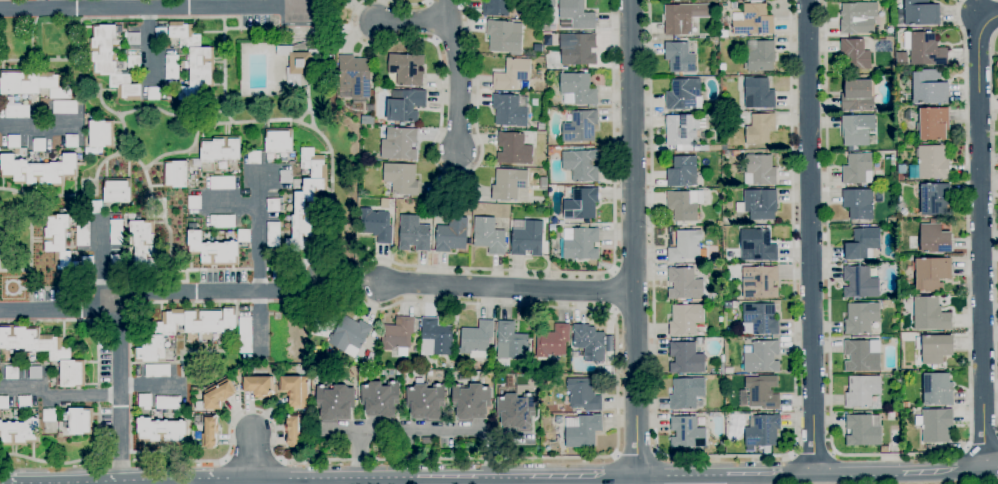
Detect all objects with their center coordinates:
building: (543, 1)
road: (218, 3)
road: (295, 3)
road: (81, 4)
road: (407, 4)
road: (147, 8)
building: (496, 8)
building: (921, 13)
building: (575, 15)
building: (683, 18)
building: (858, 18)
building: (889, 18)
road: (412, 21)
building: (753, 21)
building: (889, 31)
building: (161, 34)
building: (723, 34)
building: (504, 36)
building: (132, 38)
road: (148, 45)
building: (924, 48)
building: (578, 50)
building: (855, 54)
building: (679, 57)
building: (761, 57)
building: (193, 58)
building: (133, 62)
building: (110, 64)
building: (298, 64)
building: (997, 65)
building: (171, 67)
building: (722, 68)
building: (406, 69)
road: (457, 74)
building: (511, 74)
building: (355, 75)
building: (31, 83)
building: (929, 88)
building: (577, 90)
building: (153, 94)
building: (758, 94)
building: (684, 95)
building: (858, 95)
building: (405, 106)
building: (65, 107)
building: (715, 107)
building: (16, 111)
building: (509, 111)
building: (908, 115)
building: (715, 116)
building: (933, 123)
road: (35, 126)
building: (540, 126)
building: (580, 127)
building: (760, 128)
building: (856, 129)
building: (682, 131)
building: (100, 136)
building: (13, 141)
building: (71, 141)
building: (278, 142)
building: (399, 144)
building: (39, 145)
road: (432, 146)
building: (724, 147)
building: (714, 148)
building: (513, 149)
building: (220, 150)
building: (735, 154)
building: (254, 157)
building: (930, 163)
building: (581, 165)
building: (857, 169)
building: (902, 169)
building: (39, 170)
building: (759, 170)
building: (682, 172)
building: (176, 174)
building: (285, 177)
building: (900, 177)
building: (401, 179)
building: (222, 183)
building: (508, 184)
building: (543, 184)
building: (116, 190)
building: (386, 193)
building: (933, 199)
building: (306, 201)
building: (194, 202)
building: (385, 203)
road: (234, 204)
building: (581, 204)
building: (684, 204)
building: (859, 204)
building: (274, 205)
building: (759, 205)
building: (95, 207)
building: (932, 220)
building: (222, 221)
building: (891, 221)
building: (561, 222)
building: (375, 225)
road: (980, 229)
road: (993, 231)
building: (116, 232)
building: (81, 234)
building: (273, 234)
building: (414, 234)
building: (451, 235)
building: (244, 236)
building: (488, 236)
road: (811, 236)
building: (527, 238)
building: (935, 239)
road: (633, 242)
building: (143, 243)
building: (580, 244)
building: (862, 244)
building: (757, 245)
building: (63, 247)
building: (684, 247)
building: (212, 248)
building: (116, 261)
road: (257, 263)
road: (474, 269)
road: (101, 271)
building: (930, 273)
building: (759, 282)
building: (860, 283)
building: (684, 285)
road: (507, 287)
road: (142, 291)
building: (728, 305)
building: (930, 314)
building: (861, 318)
building: (685, 319)
building: (721, 319)
building: (759, 319)
building: (185, 329)
building: (374, 333)
building: (397, 334)
building: (245, 335)
building: (350, 336)
building: (436, 338)
building: (477, 339)
building: (894, 341)
building: (511, 342)
building: (552, 342)
building: (589, 342)
building: (935, 348)
building: (59, 356)
building: (860, 356)
building: (762, 357)
building: (685, 358)
building: (722, 358)
building: (250, 370)
building: (729, 370)
building: (157, 371)
building: (11, 373)
building: (34, 373)
building: (728, 378)
building: (509, 383)
road: (150, 386)
building: (258, 386)
building: (937, 389)
building: (295, 390)
building: (861, 391)
building: (686, 393)
building: (218, 394)
building: (759, 394)
road: (58, 395)
building: (583, 395)
road: (120, 396)
building: (380, 399)
building: (144, 400)
building: (425, 400)
building: (471, 401)
building: (24, 402)
building: (167, 402)
building: (334, 402)
building: (4, 403)
building: (905, 405)
building: (786, 408)
building: (516, 411)
building: (49, 415)
building: (891, 415)
building: (80, 421)
building: (701, 423)
building: (935, 425)
building: (207, 429)
building: (161, 430)
building: (294, 430)
road: (423, 430)
building: (581, 430)
building: (863, 430)
building: (19, 431)
road: (340, 431)
building: (763, 432)
building: (686, 433)
building: (543, 439)
building: (554, 440)
building: (427, 441)
road: (983, 442)
building: (928, 448)
building: (884, 449)
road: (812, 452)
road: (119, 453)
road: (899, 454)
road: (251, 455)
road: (636, 455)
road: (724, 457)
road: (408, 461)
road: (54, 463)
road: (990, 465)
road: (854, 473)
road: (681, 475)
road: (526, 476)
road: (333, 478)
road: (126, 480)
road: (192, 481)
road: (307, 481)

